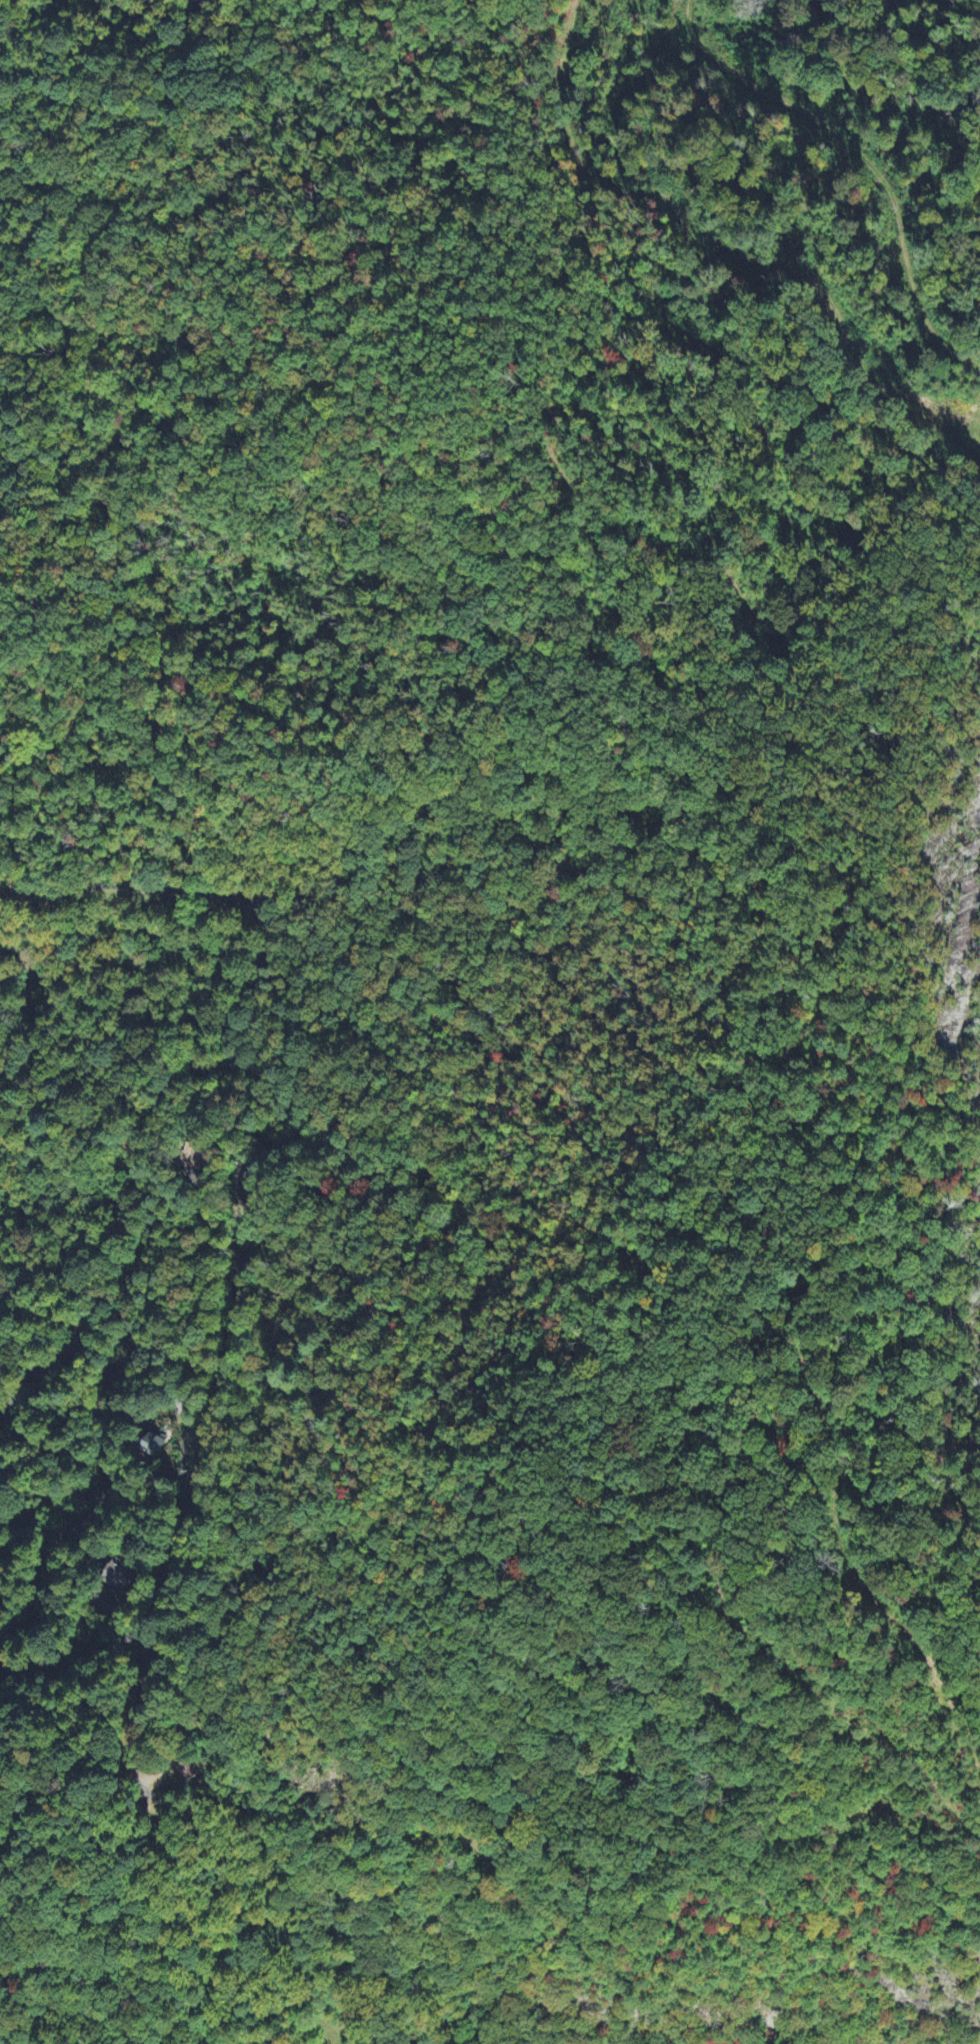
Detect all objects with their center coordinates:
road: (34, 994)
road: (135, 1137)
road: (190, 1411)
building: (115, 1575)
road: (147, 1637)
building: (187, 1771)

